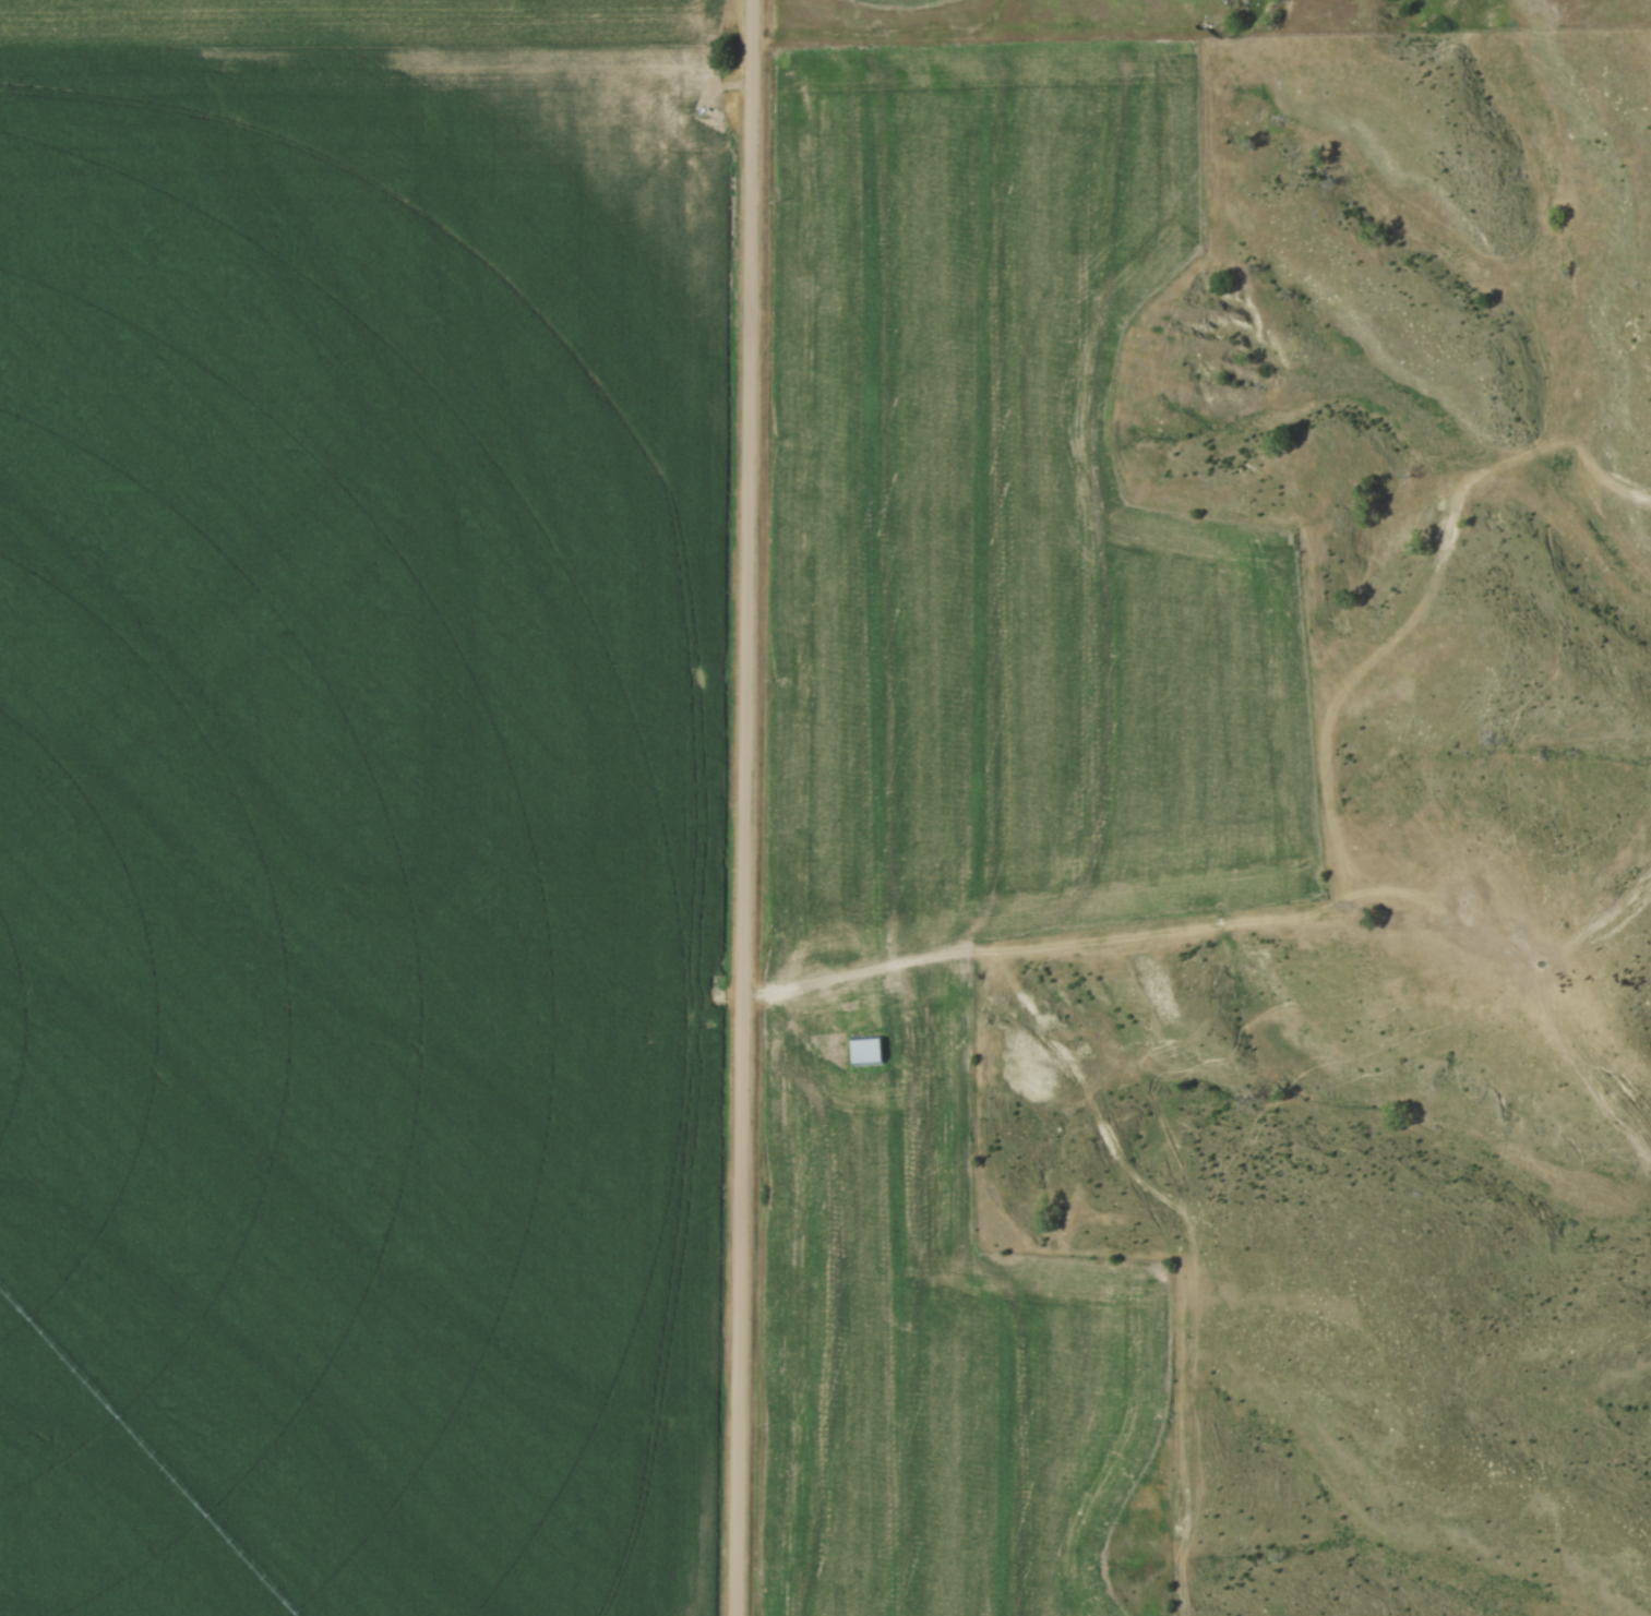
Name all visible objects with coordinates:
crop: (881, 0)
crop: (355, 20)
road: (743, 807)
building: (862, 1051)

